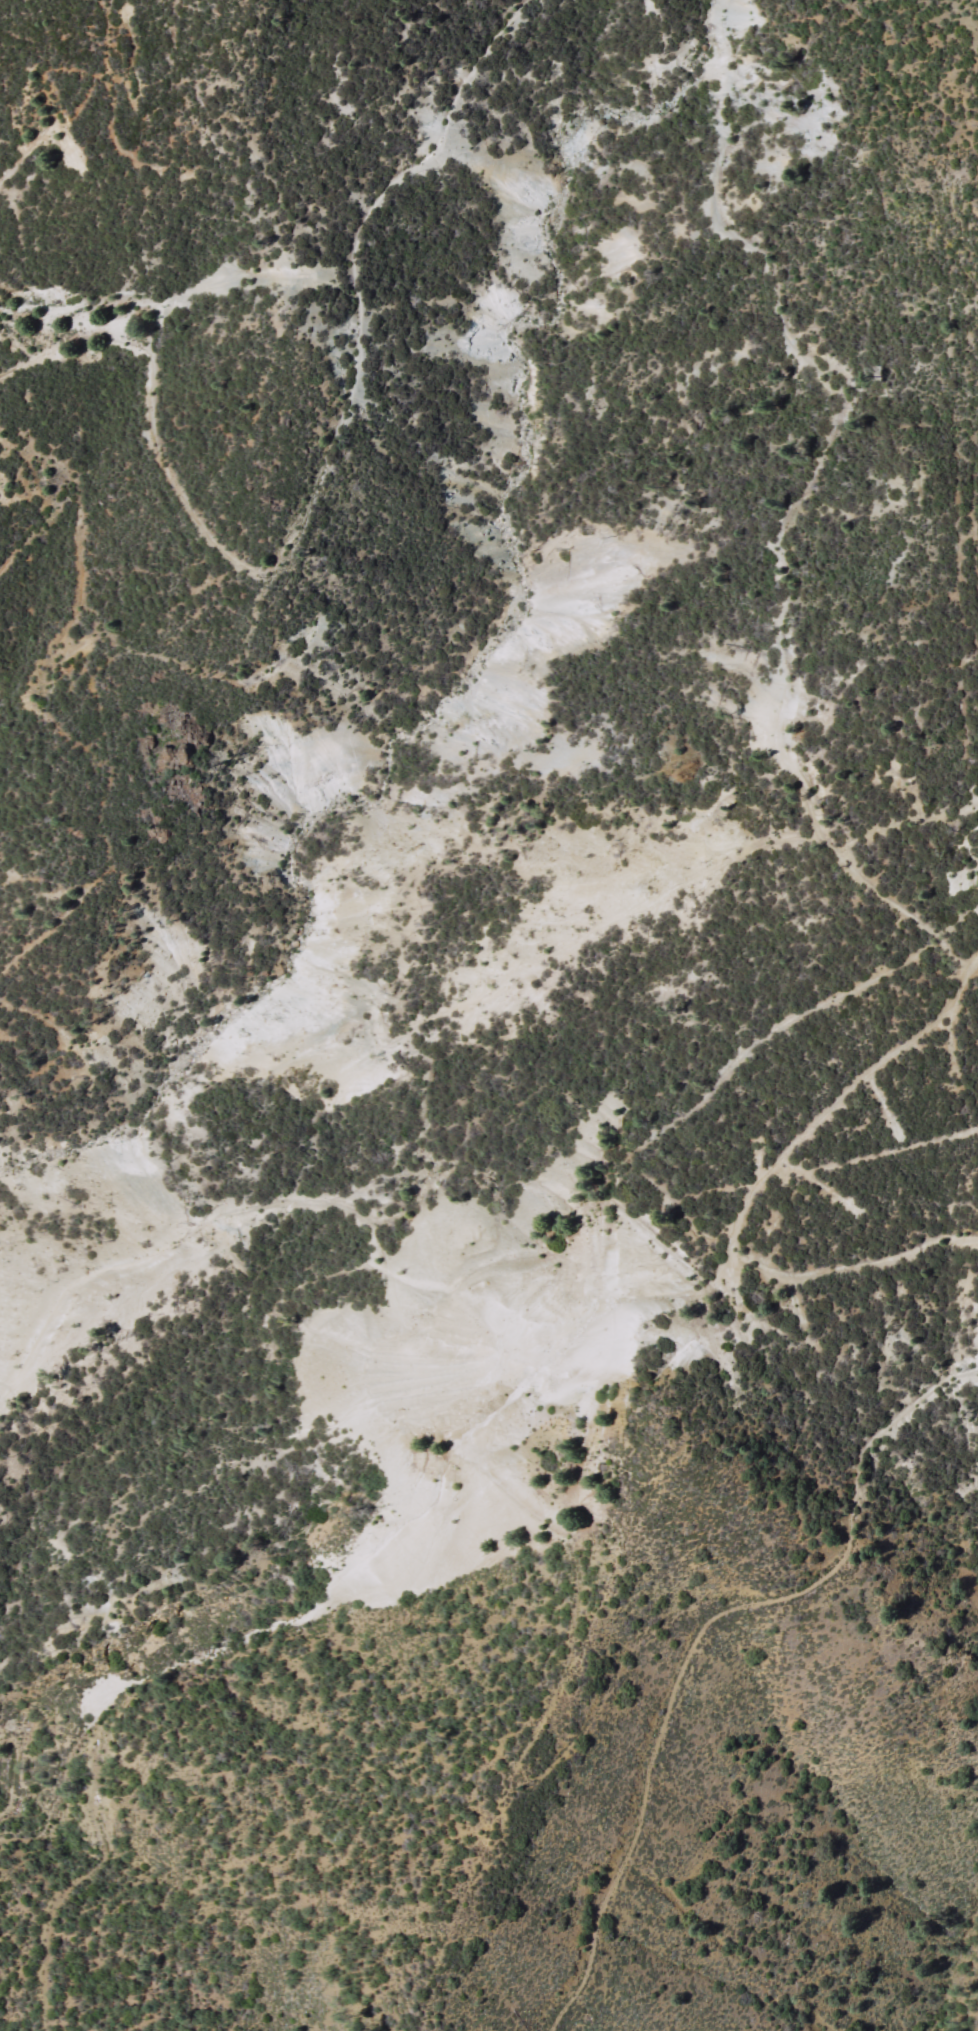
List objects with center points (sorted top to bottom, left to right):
quarry: (513, 1140)
road: (692, 1642)

